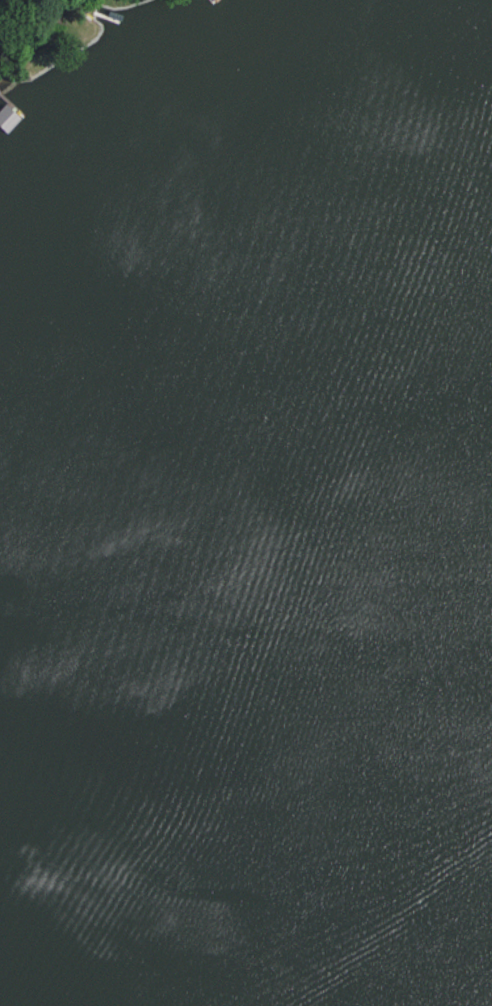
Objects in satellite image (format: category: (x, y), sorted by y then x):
building: (7, 0)
building: (6, 117)

